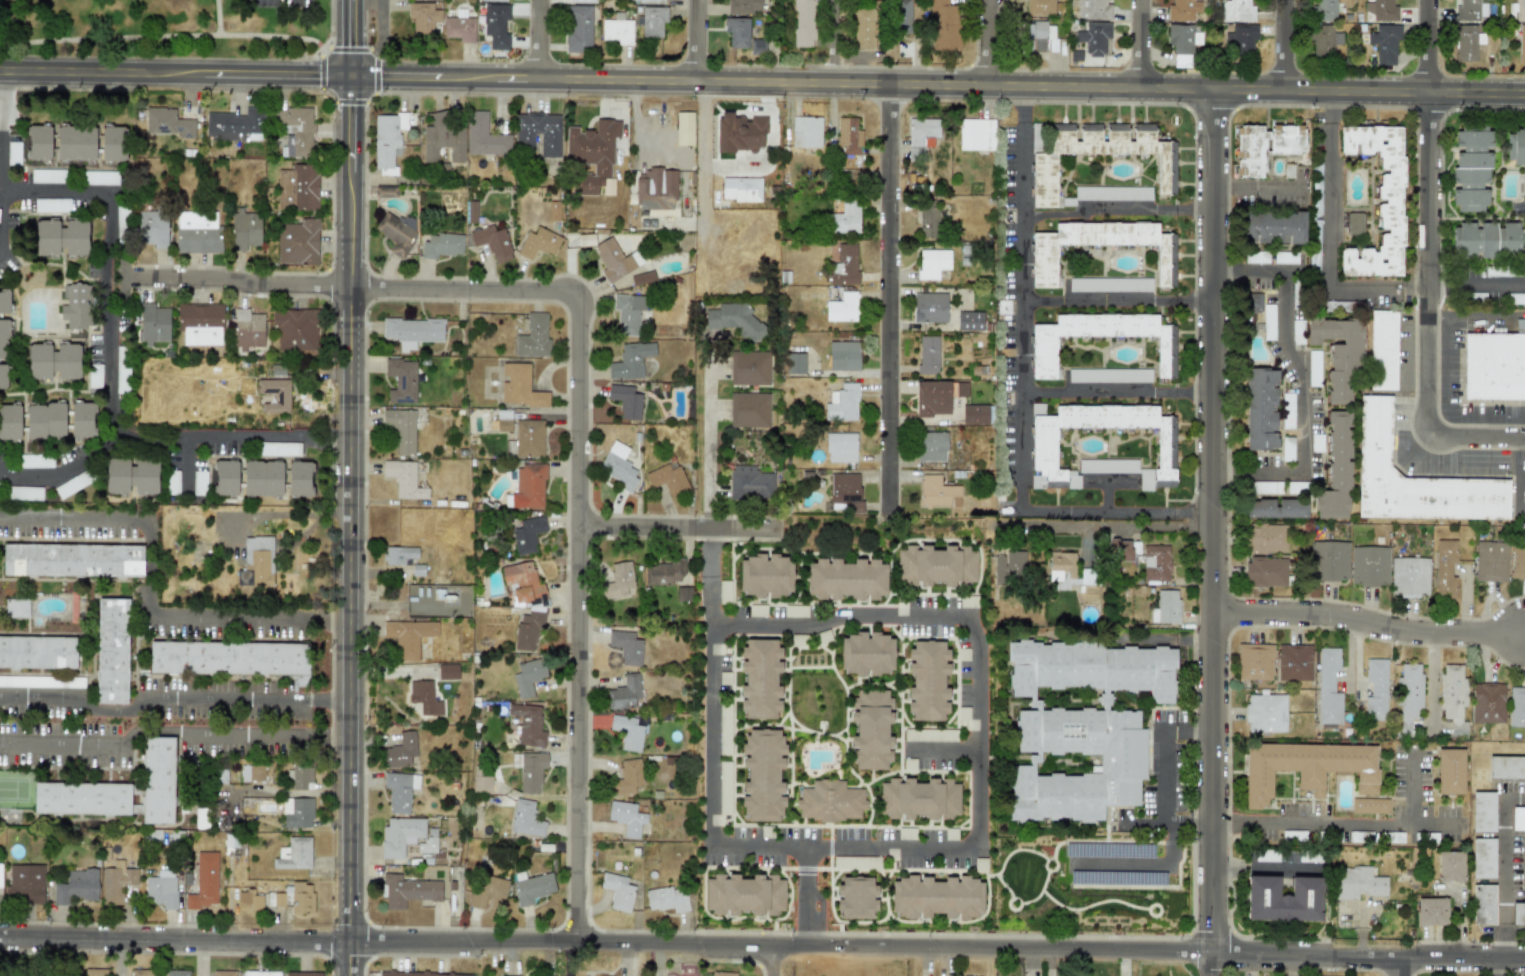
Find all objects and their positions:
building: (431, 0)
building: (494, 0)
building: (582, 1)
building: (649, 1)
building: (744, 6)
building: (1039, 7)
building: (1093, 9)
building: (1325, 9)
building: (1183, 10)
building: (1469, 10)
building: (1520, 10)
building: (1237, 11)
building: (1381, 11)
building: (423, 17)
building: (901, 17)
road: (217, 18)
building: (651, 21)
building: (804, 23)
building: (943, 24)
building: (496, 26)
park: (165, 28)
building: (459, 29)
building: (578, 29)
building: (863, 29)
building: (617, 30)
building: (738, 33)
road: (349, 36)
building: (1038, 36)
road: (180, 38)
building: (1094, 38)
road: (540, 39)
building: (1180, 39)
building: (1239, 39)
road: (699, 41)
building: (1324, 41)
building: (1465, 42)
road: (834, 43)
road: (986, 44)
building: (1385, 44)
building: (1521, 44)
road: (1142, 45)
road: (1285, 46)
road: (1429, 47)
building: (757, 48)
road: (174, 71)
road: (936, 88)
road: (0, 101)
road: (1021, 116)
building: (168, 123)
building: (233, 124)
building: (684, 129)
building: (296, 131)
building: (806, 132)
building: (539, 133)
building: (740, 133)
building: (976, 134)
building: (921, 136)
building: (485, 137)
building: (441, 139)
building: (38, 142)
building: (387, 142)
building: (76, 143)
building: (113, 143)
building: (848, 143)
building: (1265, 146)
building: (1515, 146)
building: (13, 153)
building: (593, 156)
building: (1471, 169)
building: (1045, 175)
building: (48, 176)
building: (1316, 177)
building: (100, 178)
road: (702, 184)
building: (297, 188)
building: (741, 189)
building: (656, 191)
building: (386, 192)
building: (1109, 194)
building: (1379, 201)
building: (50, 205)
building: (1316, 206)
road: (1087, 215)
road: (1184, 216)
building: (846, 219)
building: (929, 223)
building: (1355, 223)
building: (152, 228)
building: (1276, 228)
building: (245, 229)
building: (197, 233)
building: (396, 233)
building: (61, 238)
building: (1485, 239)
building: (580, 240)
building: (298, 242)
building: (492, 242)
building: (538, 243)
building: (441, 245)
building: (1256, 257)
building: (1285, 257)
building: (615, 260)
road: (1428, 262)
building: (932, 263)
building: (845, 265)
building: (1044, 266)
building: (1498, 271)
building: (642, 278)
building: (1110, 284)
road: (349, 286)
road: (1330, 288)
building: (1517, 299)
building: (4, 301)
road: (888, 303)
road: (1117, 303)
building: (77, 306)
building: (1003, 307)
building: (842, 308)
building: (930, 308)
road: (1463, 311)
building: (628, 313)
building: (1265, 317)
building: (734, 319)
building: (969, 321)
road: (107, 323)
building: (200, 323)
building: (153, 324)
building: (247, 330)
building: (295, 330)
building: (412, 331)
building: (1297, 332)
building: (533, 336)
building: (4, 338)
building: (1383, 350)
building: (1043, 352)
building: (843, 355)
building: (927, 355)
building: (1338, 357)
building: (630, 360)
building: (53, 361)
building: (795, 363)
building: (1495, 365)
building: (750, 368)
building: (1314, 368)
building: (122, 370)
building: (1109, 375)
building: (3, 376)
building: (94, 376)
road: (1300, 377)
building: (401, 381)
building: (518, 386)
road: (1086, 392)
road: (1183, 393)
building: (275, 395)
building: (934, 397)
building: (626, 401)
building: (843, 403)
building: (1261, 409)
building: (749, 410)
building: (1288, 411)
building: (976, 414)
building: (82, 419)
building: (10, 421)
building: (45, 421)
building: (503, 421)
road: (1020, 427)
building: (402, 429)
road: (199, 435)
road: (312, 436)
road: (338, 436)
road: (1478, 437)
building: (529, 438)
road: (707, 442)
building: (1316, 443)
building: (1102, 445)
building: (932, 446)
building: (841, 447)
building: (279, 448)
building: (1287, 450)
road: (184, 459)
building: (36, 461)
building: (619, 466)
building: (1336, 469)
building: (131, 476)
building: (225, 477)
building: (262, 478)
building: (299, 478)
building: (668, 478)
building: (403, 479)
building: (1415, 479)
building: (172, 482)
building: (199, 483)
building: (750, 483)
building: (72, 484)
building: (529, 487)
building: (1266, 487)
building: (1296, 487)
building: (845, 492)
building: (937, 492)
building: (24, 493)
building: (1276, 508)
road: (282, 514)
road: (1216, 522)
road: (349, 524)
road: (675, 530)
building: (527, 535)
building: (1266, 539)
building: (1120, 550)
road: (709, 553)
building: (400, 555)
building: (72, 560)
building: (259, 560)
building: (1518, 560)
building: (1328, 561)
building: (1491, 561)
building: (1157, 563)
building: (937, 565)
building: (1369, 566)
building: (1010, 567)
building: (1444, 570)
building: (1067, 571)
building: (1266, 572)
building: (663, 573)
building: (766, 575)
road: (147, 576)
building: (1409, 576)
building: (846, 579)
building: (618, 580)
building: (525, 585)
building: (724, 592)
building: (684, 594)
road: (711, 601)
building: (1166, 607)
building: (16, 608)
building: (757, 610)
building: (795, 611)
road: (332, 619)
road: (1371, 620)
building: (527, 630)
road: (575, 635)
building: (408, 637)
building: (626, 647)
building: (112, 651)
building: (37, 652)
building: (866, 654)
building: (228, 658)
building: (1255, 662)
building: (1294, 662)
building: (448, 672)
building: (528, 676)
building: (760, 679)
building: (928, 680)
building: (42, 681)
road: (978, 683)
building: (1328, 687)
building: (1376, 689)
building: (624, 693)
building: (1409, 693)
building: (424, 697)
building: (1453, 697)
road: (151, 698)
road: (330, 700)
building: (1488, 703)
building: (1517, 707)
building: (1266, 713)
building: (528, 725)
building: (1081, 726)
building: (724, 728)
building: (872, 729)
building: (627, 732)
road: (261, 733)
building: (930, 735)
road: (60, 742)
road: (946, 749)
building: (400, 751)
building: (909, 764)
building: (1506, 767)
building: (1306, 768)
building: (531, 771)
building: (1450, 771)
building: (252, 772)
road: (1161, 774)
building: (763, 775)
building: (300, 776)
building: (628, 777)
building: (158, 780)
building: (482, 784)
building: (724, 788)
park: (17, 789)
building: (400, 791)
road: (285, 792)
building: (82, 798)
building: (919, 798)
building: (830, 801)
building: (1369, 806)
building: (297, 812)
building: (1483, 812)
building: (627, 817)
building: (1518, 818)
building: (526, 819)
road: (1350, 823)
road: (712, 836)
building: (406, 837)
building: (1395, 837)
building: (294, 854)
building: (1266, 855)
building: (1303, 856)
building: (1483, 858)
building: (855, 862)
road: (1142, 866)
building: (1450, 866)
building: (1524, 866)
road: (1268, 868)
road: (1504, 870)
building: (204, 881)
building: (25, 882)
building: (116, 882)
building: (0, 884)
building: (1357, 884)
building: (76, 887)
building: (533, 888)
building: (161, 889)
building: (487, 889)
building: (408, 890)
building: (618, 891)
building: (745, 894)
building: (293, 897)
building: (856, 897)
building: (936, 897)
building: (667, 899)
building: (1282, 899)
building: (249, 901)
building: (1483, 904)
building: (1431, 911)
building: (1518, 914)
road: (1459, 923)
road: (762, 948)
road: (774, 962)
road: (1211, 964)
road: (1397, 967)
road: (1498, 968)
building: (95, 972)
building: (147, 972)
building: (177, 973)
building: (224, 973)
building: (260, 973)
building: (302, 973)
building: (722, 973)
building: (418, 974)
building: (505, 975)

